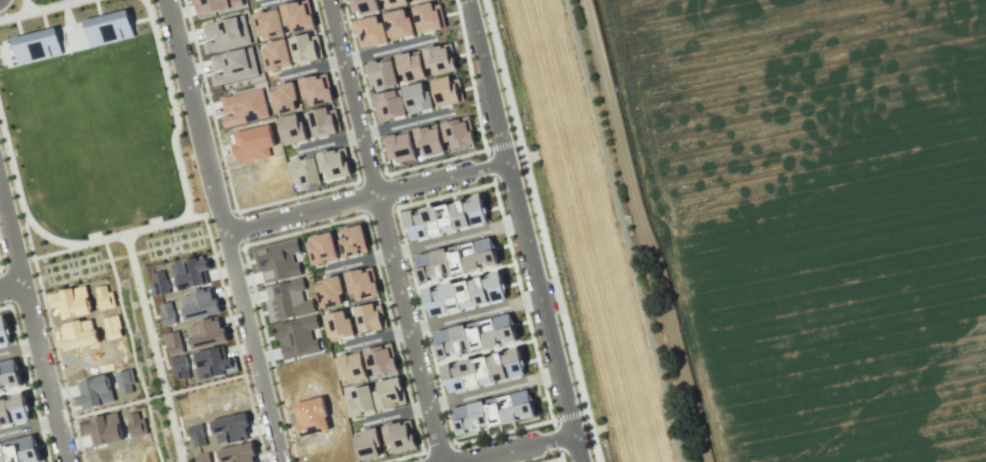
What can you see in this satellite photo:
building: (379, 0)
building: (414, 0)
road: (266, 1)
road: (64, 2)
building: (395, 3)
park: (24, 5)
building: (214, 5)
road: (27, 6)
building: (362, 6)
road: (40, 10)
building: (298, 16)
building: (428, 17)
building: (267, 23)
building: (398, 24)
building: (107, 28)
street lamp: (497, 30)
building: (370, 32)
building: (225, 34)
building: (36, 46)
street lamp: (165, 48)
building: (305, 48)
road: (386, 49)
building: (275, 55)
building: (440, 59)
building: (233, 66)
building: (410, 66)
road: (311, 67)
building: (380, 73)
building: (316, 89)
building: (447, 91)
road: (352, 97)
building: (284, 98)
building: (416, 98)
street lamp: (473, 103)
building: (387, 105)
street lamp: (177, 106)
building: (244, 107)
building: (323, 121)
street lamp: (367, 121)
road: (404, 122)
building: (291, 129)
building: (457, 132)
street lamp: (523, 136)
building: (428, 140)
road: (329, 141)
building: (399, 147)
building: (319, 168)
street lamp: (221, 170)
park: (103, 172)
street lamp: (482, 177)
street lamp: (189, 189)
road: (365, 197)
road: (219, 212)
road: (195, 216)
crop: (816, 216)
building: (445, 218)
road: (159, 224)
road: (241, 227)
road: (223, 230)
street lamp: (154, 231)
road: (523, 231)
road: (541, 231)
road: (455, 237)
street lamp: (246, 239)
building: (353, 241)
street lamp: (537, 241)
street lamp: (84, 248)
building: (321, 249)
road: (227, 251)
building: (454, 258)
building: (277, 261)
road: (358, 262)
street lamp: (381, 268)
building: (362, 283)
road: (10, 286)
building: (330, 292)
building: (464, 294)
building: (287, 300)
street lamp: (564, 302)
road: (473, 313)
building: (370, 317)
building: (337, 325)
road: (407, 328)
road: (33, 329)
building: (4, 334)
building: (474, 335)
road: (376, 336)
building: (298, 337)
road: (234, 338)
street lamp: (239, 338)
road: (52, 339)
road: (153, 348)
road: (18, 349)
road: (132, 350)
building: (380, 359)
street lamp: (543, 363)
building: (352, 367)
building: (482, 370)
building: (9, 376)
street lamp: (435, 385)
road: (492, 389)
building: (388, 393)
road: (157, 396)
building: (360, 401)
street lamp: (590, 408)
building: (492, 411)
building: (13, 412)
road: (394, 414)
road: (28, 427)
building: (399, 436)
street lamp: (285, 438)
building: (367, 444)
road: (519, 448)
building: (19, 450)
street lamp: (549, 451)
road: (560, 457)
street lamp: (418, 458)
road: (561, 460)

